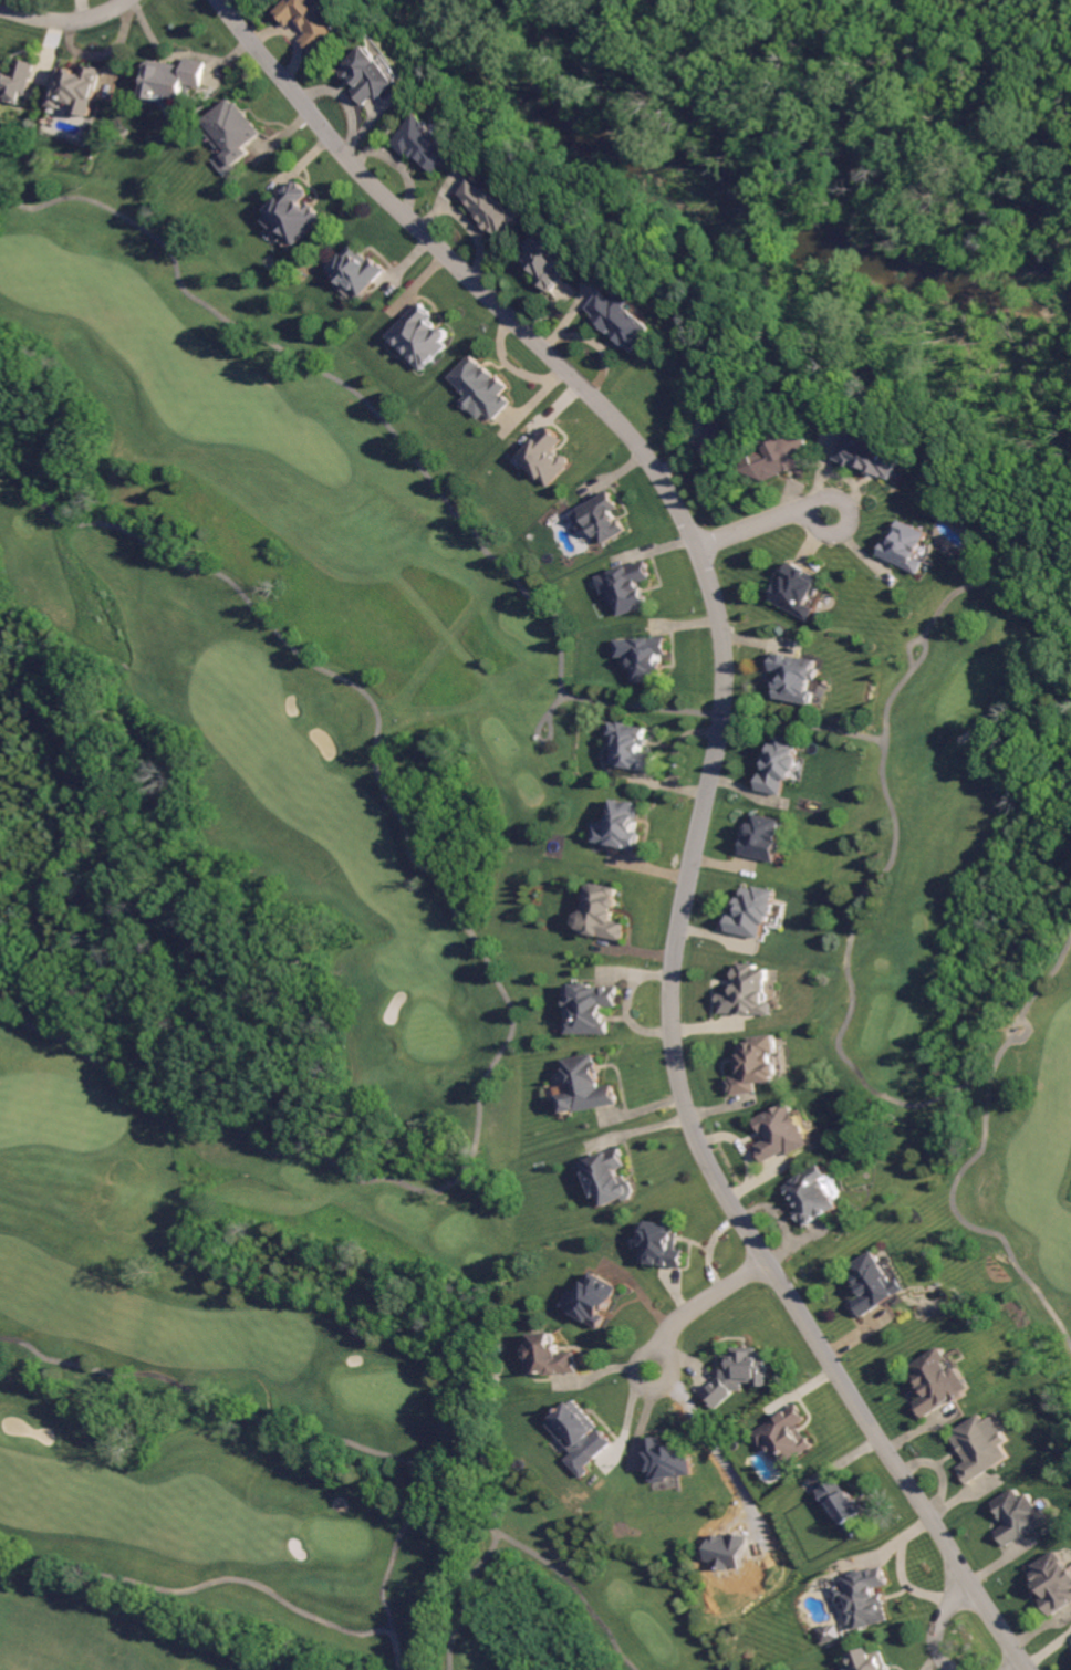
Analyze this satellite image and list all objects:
building: (319, 21)
road: (66, 23)
building: (375, 75)
building: (169, 79)
building: (14, 80)
building: (75, 91)
building: (230, 133)
building: (434, 142)
river: (731, 203)
building: (496, 208)
building: (294, 216)
building: (553, 258)
building: (356, 265)
building: (625, 319)
building: (420, 336)
road: (342, 383)
building: (481, 387)
building: (717, 438)
building: (875, 450)
building: (545, 456)
building: (784, 456)
building: (601, 519)
road: (767, 530)
building: (911, 544)
road: (700, 555)
building: (631, 588)
building: (801, 589)
road: (911, 647)
building: (644, 656)
building: (797, 676)
road: (830, 729)
road: (540, 740)
building: (632, 747)
building: (782, 766)
building: (622, 825)
building: (766, 837)
building: (752, 909)
building: (601, 910)
park: (963, 944)
road: (482, 957)
road: (848, 979)
park: (283, 991)
building: (750, 993)
building: (590, 1004)
road: (1025, 1034)
building: (755, 1064)
building: (586, 1086)
building: (781, 1129)
road: (970, 1160)
building: (606, 1178)
building: (814, 1198)
building: (664, 1243)
building: (874, 1281)
building: (593, 1296)
road: (703, 1304)
building: (551, 1353)
building: (740, 1372)
building: (939, 1380)
road: (288, 1434)
building: (575, 1434)
building: (784, 1438)
road: (704, 1444)
building: (977, 1447)
building: (666, 1459)
road: (894, 1468)
building: (843, 1509)
building: (1016, 1515)
road: (480, 1562)
road: (895, 1572)
building: (1053, 1578)
road: (199, 1587)
road: (574, 1590)
building: (860, 1598)
road: (939, 1622)
building: (828, 1634)
building: (1070, 1647)
road: (394, 1649)
building: (869, 1658)

